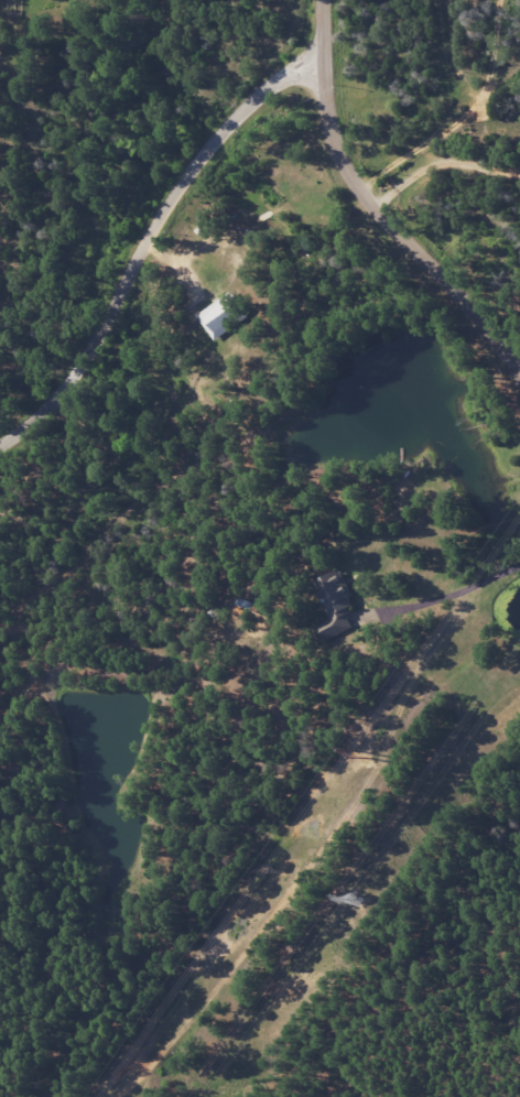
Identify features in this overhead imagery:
road: (420, 80)
road: (440, 164)
road: (371, 207)
road: (154, 242)
building: (221, 315)
road: (443, 598)
building: (334, 604)
power tower: (357, 754)
power tower: (356, 901)

